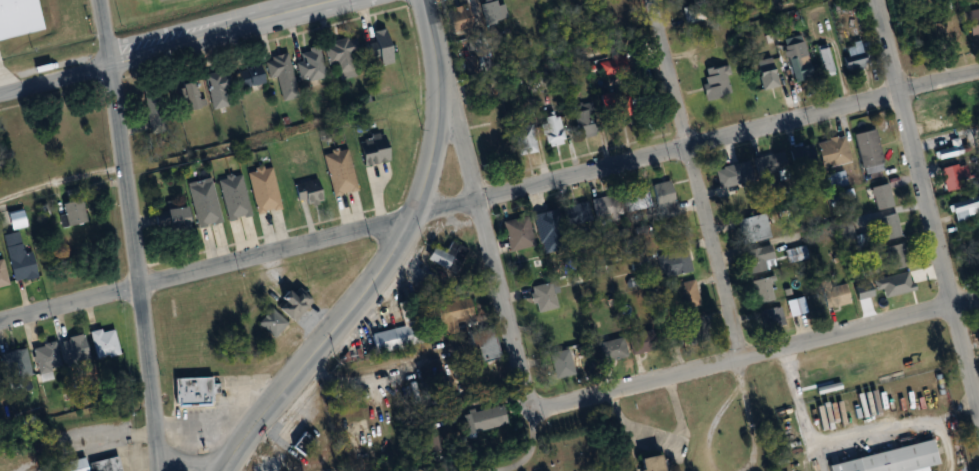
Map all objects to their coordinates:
building: (523, 8)
building: (491, 11)
building: (691, 13)
building: (22, 17)
building: (456, 18)
building: (972, 21)
road: (431, 32)
road: (165, 46)
building: (377, 47)
building: (340, 56)
building: (852, 56)
building: (795, 58)
building: (824, 60)
building: (308, 64)
building: (486, 64)
building: (611, 66)
building: (764, 73)
building: (248, 75)
building: (280, 75)
building: (713, 81)
road: (2, 84)
building: (216, 89)
building: (188, 96)
building: (152, 100)
building: (615, 105)
building: (938, 110)
building: (582, 122)
building: (978, 127)
building: (549, 131)
building: (520, 140)
road: (697, 143)
building: (865, 148)
building: (369, 150)
building: (947, 150)
building: (830, 152)
building: (800, 155)
building: (768, 164)
building: (337, 171)
building: (731, 175)
building: (953, 176)
road: (698, 179)
road: (61, 180)
building: (833, 180)
building: (262, 190)
building: (305, 193)
building: (232, 197)
building: (636, 197)
building: (878, 197)
building: (662, 200)
building: (202, 202)
road: (926, 206)
building: (601, 210)
building: (959, 210)
building: (75, 215)
building: (576, 215)
building: (172, 220)
building: (542, 226)
building: (887, 226)
building: (748, 229)
building: (844, 230)
road: (134, 234)
building: (515, 234)
road: (485, 238)
building: (16, 242)
building: (895, 256)
building: (444, 258)
building: (756, 260)
building: (672, 263)
building: (26, 266)
road: (207, 268)
building: (970, 270)
building: (4, 275)
road: (367, 286)
building: (761, 290)
building: (831, 294)
building: (685, 295)
building: (542, 297)
building: (295, 302)
building: (452, 314)
building: (770, 320)
building: (273, 322)
building: (690, 327)
building: (978, 328)
building: (396, 338)
building: (108, 343)
building: (624, 346)
building: (79, 351)
road: (757, 355)
building: (49, 358)
building: (558, 364)
building: (20, 365)
road: (737, 372)
building: (1, 380)
building: (194, 390)
road: (797, 398)
building: (479, 419)
road: (900, 419)
road: (707, 426)
road: (749, 430)
road: (667, 438)
road: (83, 448)
park: (537, 454)
road: (818, 456)
building: (895, 459)
road: (189, 463)
building: (653, 463)
building: (106, 464)
building: (68, 465)

